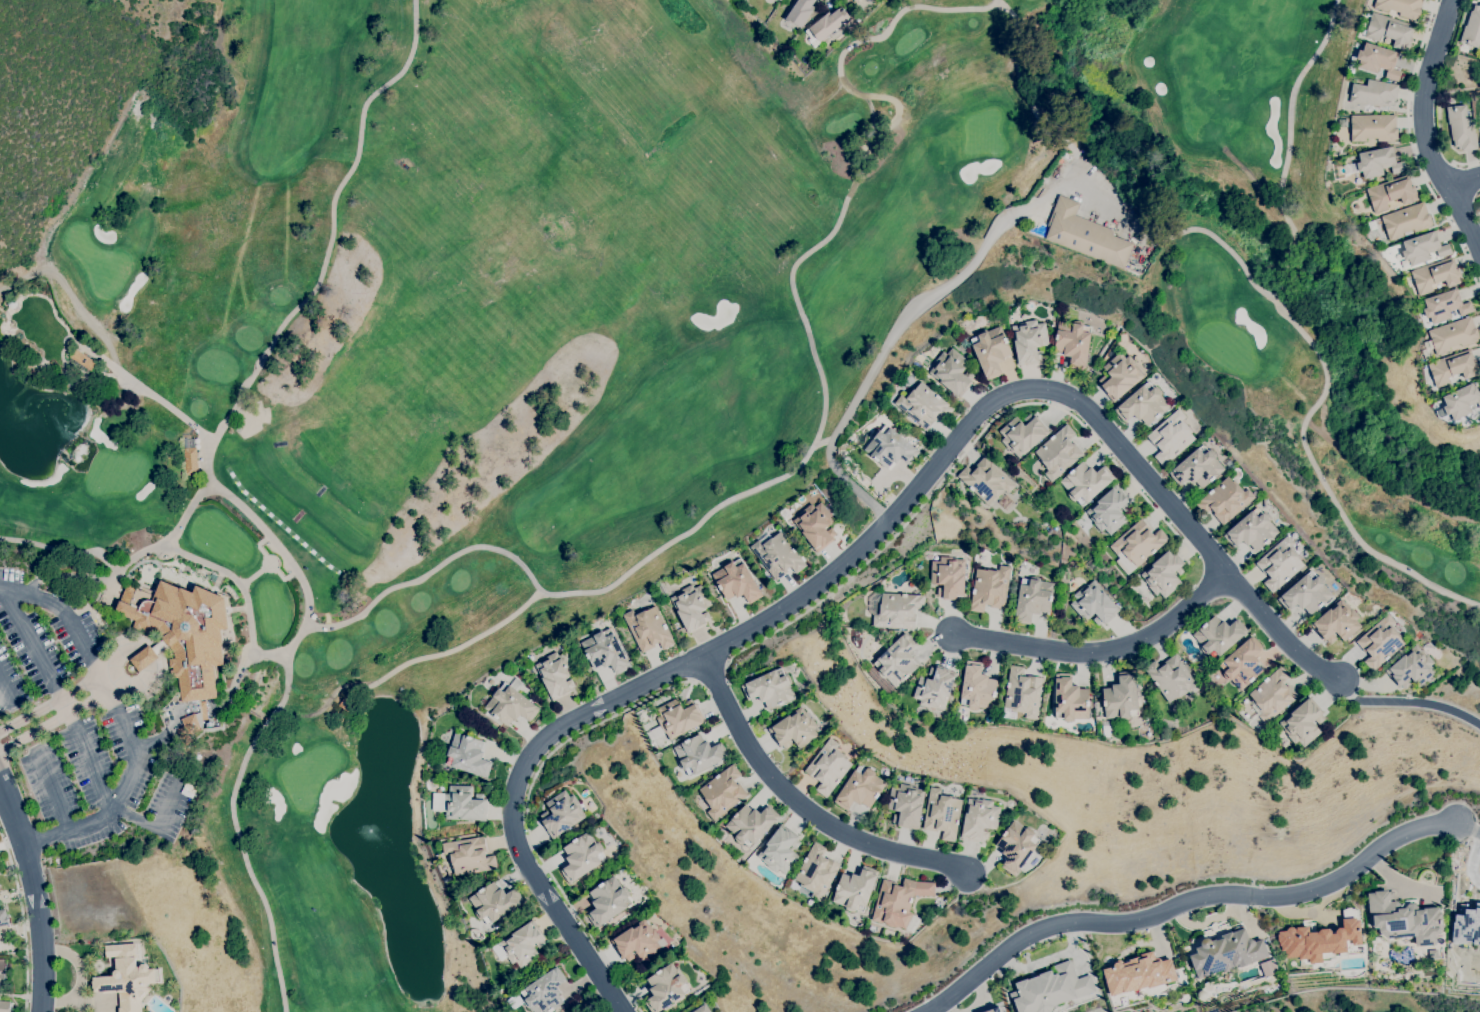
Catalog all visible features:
building: (778, 0)
building: (854, 0)
building: (856, 0)
building: (1401, 7)
building: (800, 11)
building: (826, 25)
building: (1472, 28)
building: (1390, 31)
building: (1378, 60)
building: (1373, 93)
road: (1028, 100)
building: (1341, 122)
building: (1373, 128)
road: (1423, 128)
building: (1462, 128)
park: (983, 132)
building: (1479, 135)
road: (867, 145)
road: (1288, 148)
road: (1413, 151)
building: (1379, 162)
road: (1464, 164)
road: (1457, 175)
road: (1467, 183)
building: (1392, 193)
parking lot: (1102, 194)
road: (1100, 198)
building: (1406, 220)
road: (333, 226)
building: (1085, 235)
building: (1424, 248)
building: (1436, 275)
building: (1445, 306)
road: (896, 331)
building: (1451, 337)
building: (1029, 341)
park: (634, 343)
building: (1073, 343)
building: (990, 351)
building: (83, 360)
building: (1453, 367)
road: (122, 371)
building: (952, 372)
building: (1120, 376)
road: (1321, 400)
building: (1461, 401)
building: (923, 405)
building: (1143, 405)
building: (1022, 434)
building: (1170, 437)
building: (890, 448)
road: (963, 453)
building: (1058, 453)
building: (190, 458)
building: (1198, 468)
park: (114, 471)
building: (986, 480)
building: (1085, 482)
building: (951, 487)
road: (909, 495)
building: (1225, 500)
building: (1109, 510)
building: (816, 526)
road: (692, 529)
building: (1253, 530)
building: (1138, 542)
road: (78, 547)
road: (1190, 547)
building: (777, 555)
road: (524, 563)
building: (1280, 564)
road: (264, 566)
road: (276, 570)
building: (1164, 573)
road: (236, 576)
building: (949, 577)
road: (67, 578)
building: (737, 582)
road: (12, 588)
building: (990, 588)
road: (37, 593)
road: (310, 593)
building: (1306, 593)
building: (1033, 599)
building: (1094, 604)
building: (692, 607)
building: (894, 609)
building: (1337, 622)
building: (648, 629)
building: (183, 631)
road: (82, 632)
building: (1218, 636)
road: (33, 642)
building: (1380, 642)
building: (160, 646)
road: (113, 647)
building: (605, 651)
road: (1101, 651)
building: (144, 658)
building: (897, 661)
building: (1242, 664)
fountain: (132, 667)
road: (711, 667)
building: (1411, 668)
building: (557, 674)
building: (1172, 678)
road: (86, 682)
road: (104, 684)
building: (977, 687)
building: (935, 688)
building: (770, 689)
building: (1022, 693)
road: (8, 694)
building: (1273, 695)
building: (1122, 697)
building: (1070, 699)
road: (96, 700)
road: (67, 705)
building: (510, 705)
road: (599, 706)
road: (32, 712)
building: (679, 718)
building: (193, 722)
building: (1303, 722)
building: (794, 729)
road: (35, 733)
road: (149, 741)
road: (135, 750)
building: (468, 755)
building: (699, 755)
road: (89, 762)
building: (828, 767)
park: (310, 772)
building: (860, 789)
building: (723, 792)
building: (464, 804)
road: (168, 805)
road: (802, 805)
building: (906, 805)
road: (61, 811)
road: (526, 813)
building: (562, 814)
building: (942, 814)
road: (134, 818)
building: (979, 819)
building: (751, 824)
road: (239, 830)
road: (46, 838)
building: (1017, 847)
building: (780, 850)
road: (1372, 852)
building: (469, 856)
building: (582, 857)
building: (816, 872)
building: (855, 889)
road: (35, 894)
building: (608, 901)
building: (495, 903)
building: (899, 903)
road: (26, 917)
building: (3, 918)
building: (1404, 919)
road: (1083, 920)
building: (1467, 924)
building: (1319, 939)
building: (637, 942)
building: (0, 944)
building: (521, 945)
building: (1227, 953)
building: (1139, 973)
building: (2, 978)
building: (127, 978)
building: (665, 988)
building: (1051, 989)
building: (545, 992)
building: (515, 1001)
park: (1385, 1004)
building: (5, 1006)
building: (702, 1009)
building: (991, 1009)

